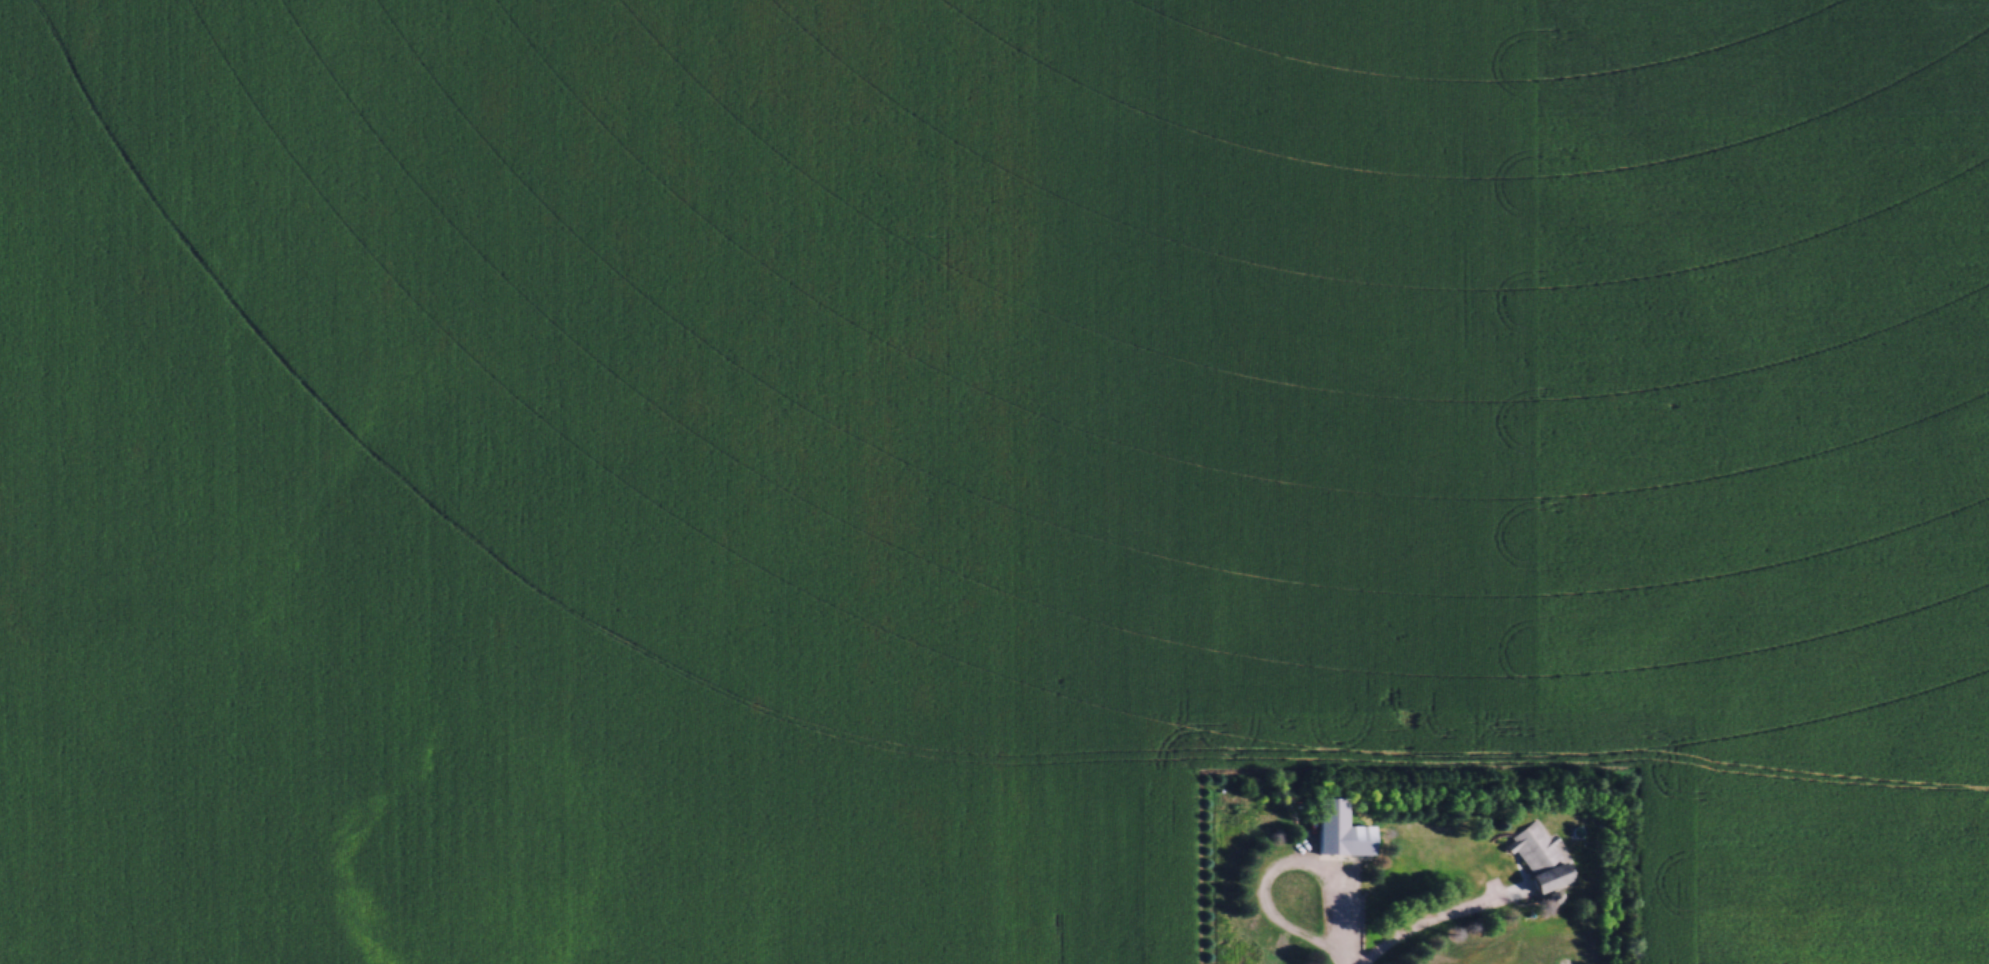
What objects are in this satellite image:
building: (1338, 829)
building: (1538, 857)
road: (1437, 923)

